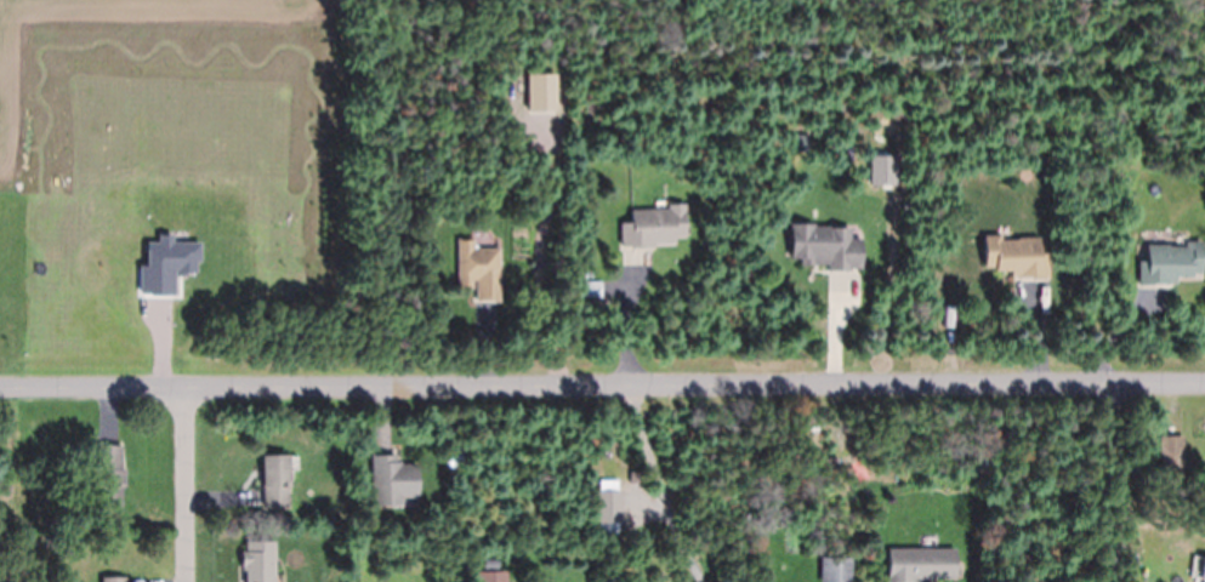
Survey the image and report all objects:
building: (542, 93)
crop: (165, 166)
building: (654, 227)
building: (826, 247)
building: (1017, 257)
building: (476, 262)
building: (1170, 263)
road: (602, 386)
building: (1171, 451)
building: (109, 474)
building: (274, 479)
building: (394, 481)
road: (186, 485)
building: (608, 507)
building: (21, 537)
building: (28, 538)
building: (921, 565)
building: (13, 567)
building: (1203, 569)
building: (836, 570)
building: (258, 571)
building: (491, 576)
building: (113, 578)

